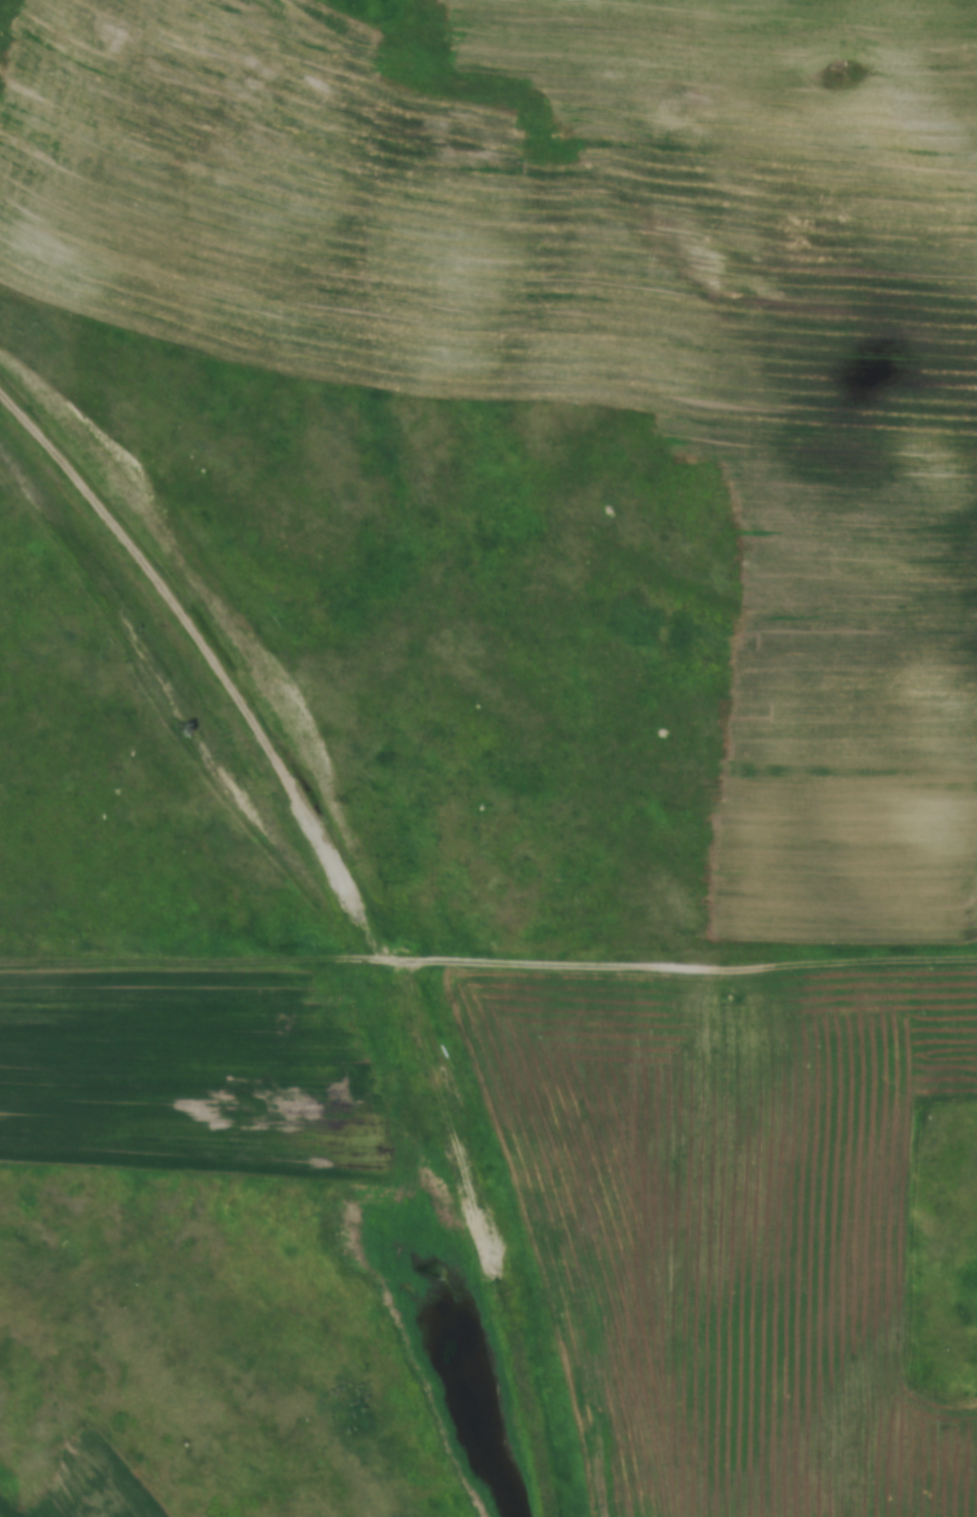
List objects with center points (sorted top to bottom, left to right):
road: (188, 961)
road: (677, 967)

